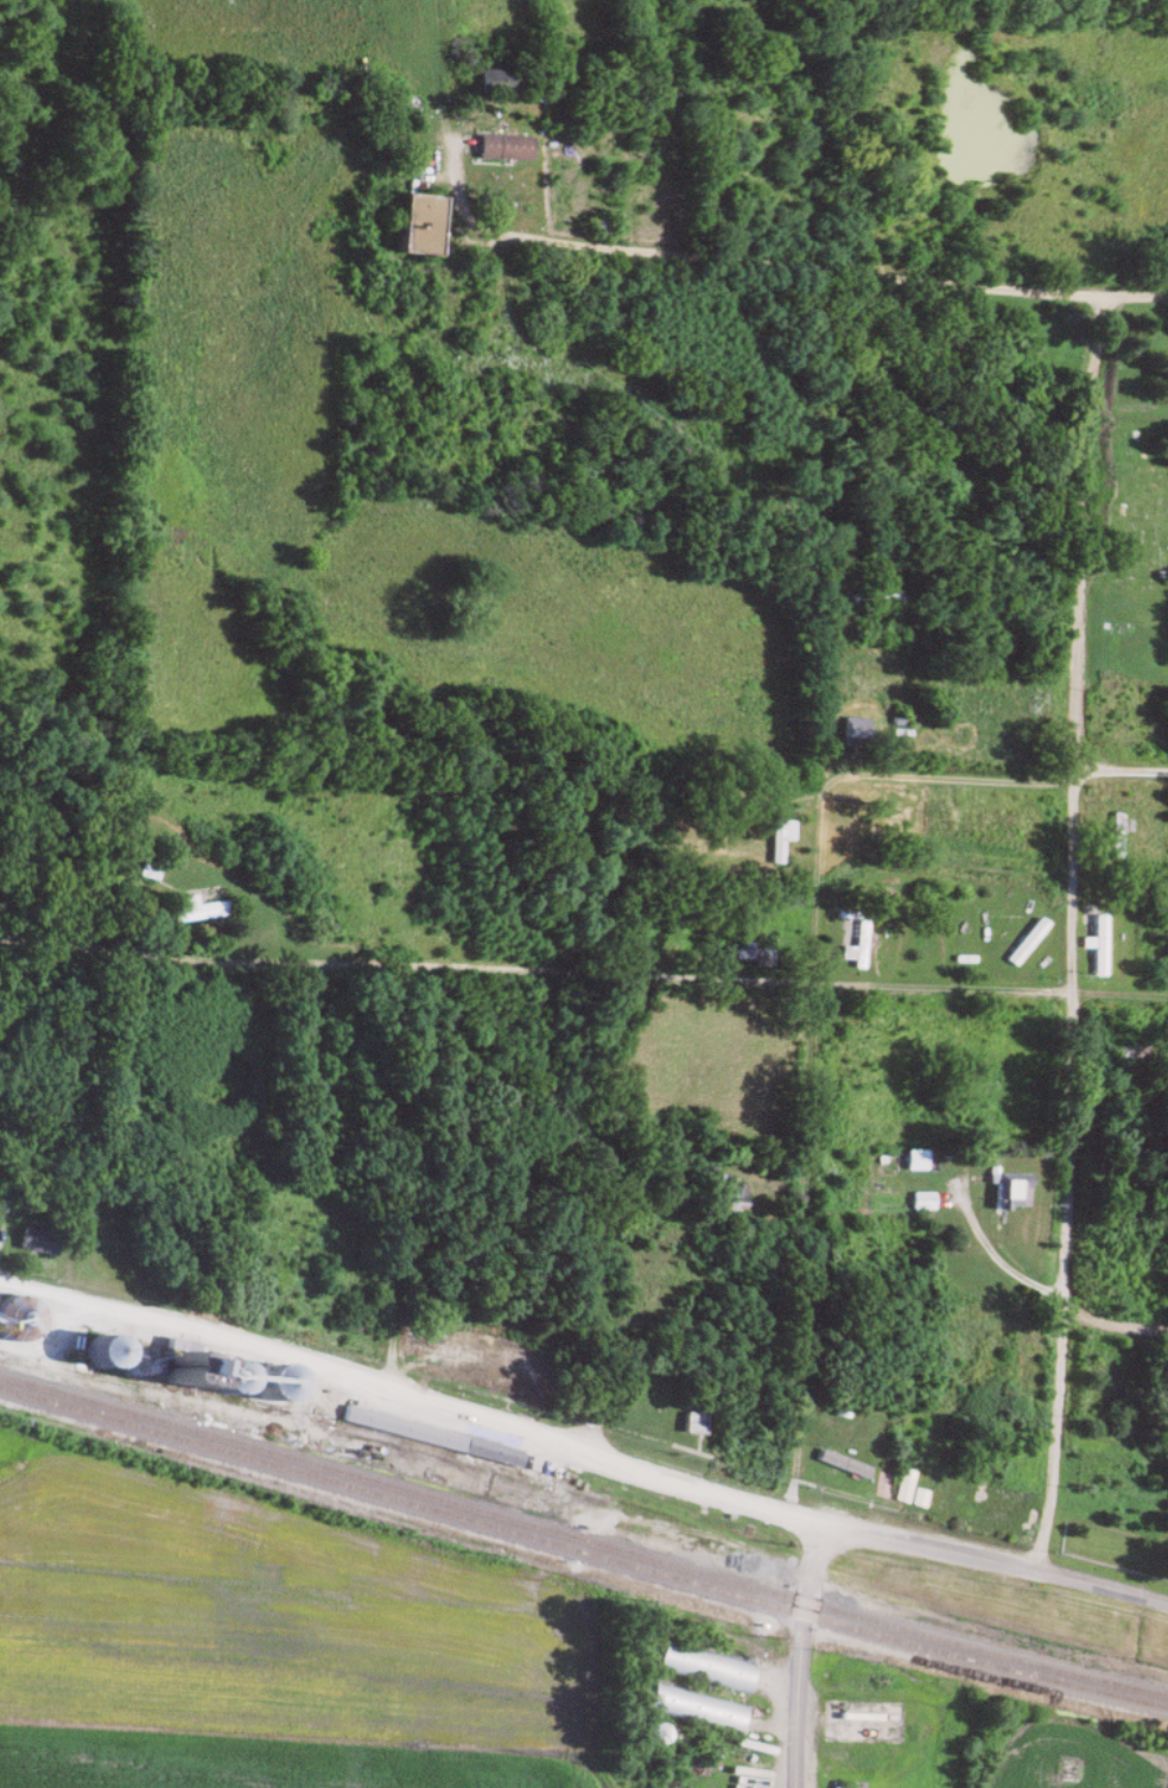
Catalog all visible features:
building: (497, 80)
building: (508, 147)
building: (419, 223)
road: (688, 258)
building: (997, 317)
building: (1049, 341)
road: (1083, 532)
park: (1131, 533)
building: (878, 598)
building: (857, 731)
road: (1121, 771)
road: (1074, 776)
road: (966, 780)
building: (780, 835)
building: (1117, 835)
building: (150, 868)
building: (201, 909)
building: (1028, 941)
building: (863, 945)
building: (1103, 946)
building: (756, 956)
road: (583, 971)
road: (1075, 1040)
road: (806, 1129)
building: (891, 1158)
building: (1011, 1191)
building: (730, 1196)
building: (926, 1201)
building: (34, 1241)
road: (991, 1254)
road: (1066, 1307)
building: (17, 1318)
road: (1116, 1324)
road: (197, 1330)
building: (451, 1349)
building: (102, 1352)
building: (508, 1363)
building: (185, 1369)
railway: (70, 1374)
building: (228, 1378)
building: (694, 1424)
building: (431, 1435)
road: (1053, 1446)
building: (751, 1456)
road: (615, 1462)
building: (882, 1486)
building: (902, 1491)
building: (919, 1498)
railway: (583, 1540)
railway: (583, 1552)
road: (1001, 1564)
road: (799, 1659)
building: (705, 1667)
building: (694, 1710)
building: (656, 1735)

